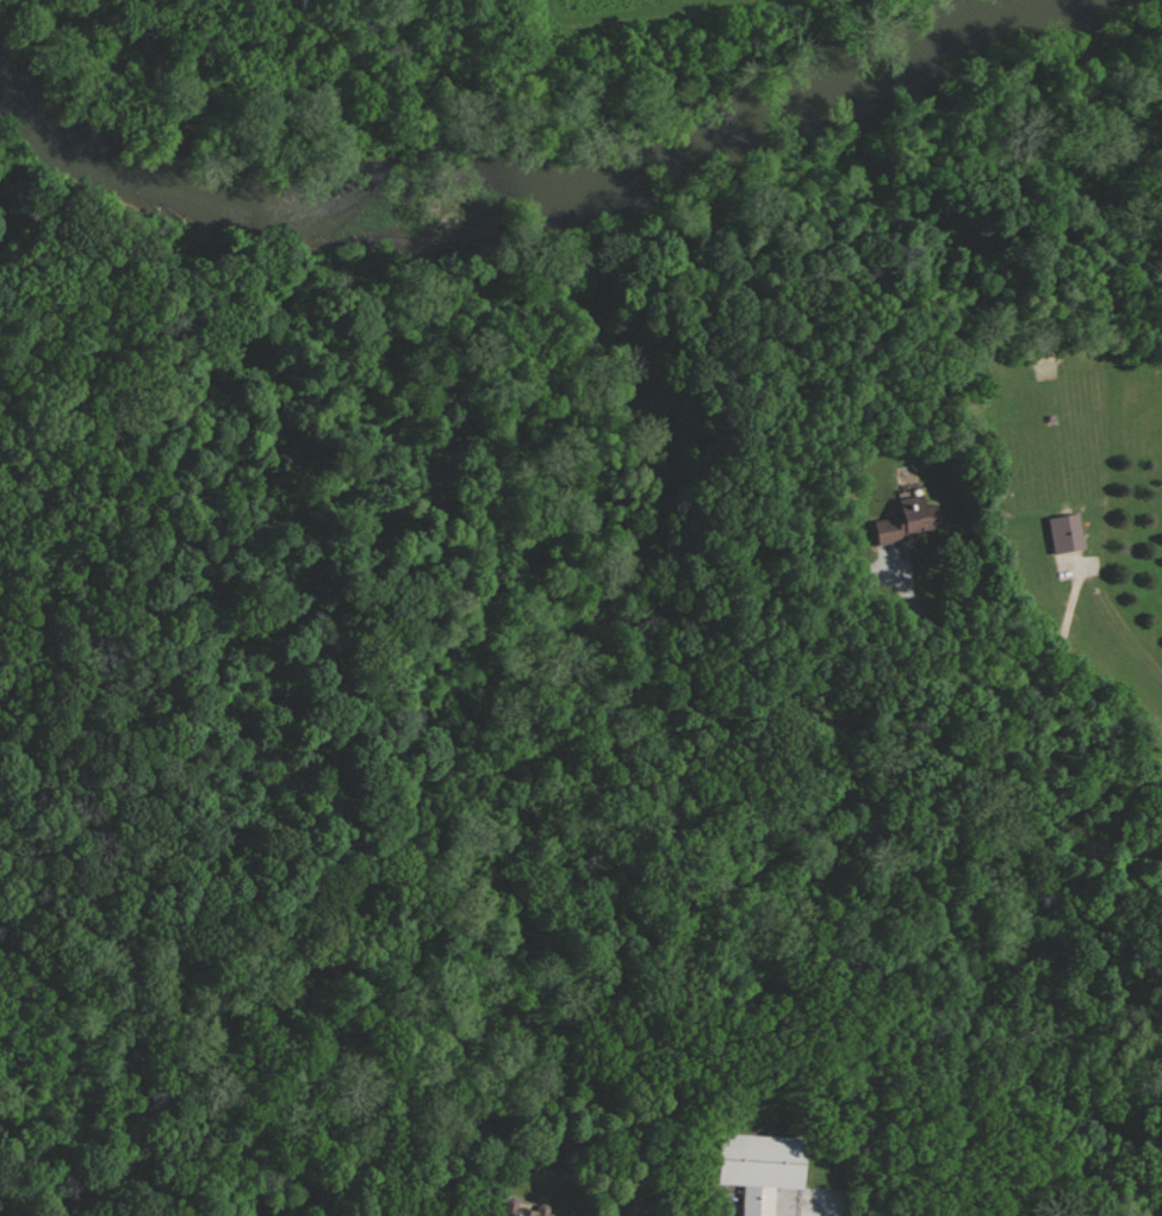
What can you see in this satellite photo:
river: (554, 190)
building: (911, 521)
building: (1069, 534)
road: (1030, 691)
building: (642, 1205)
building: (529, 1211)
building: (580, 1214)

